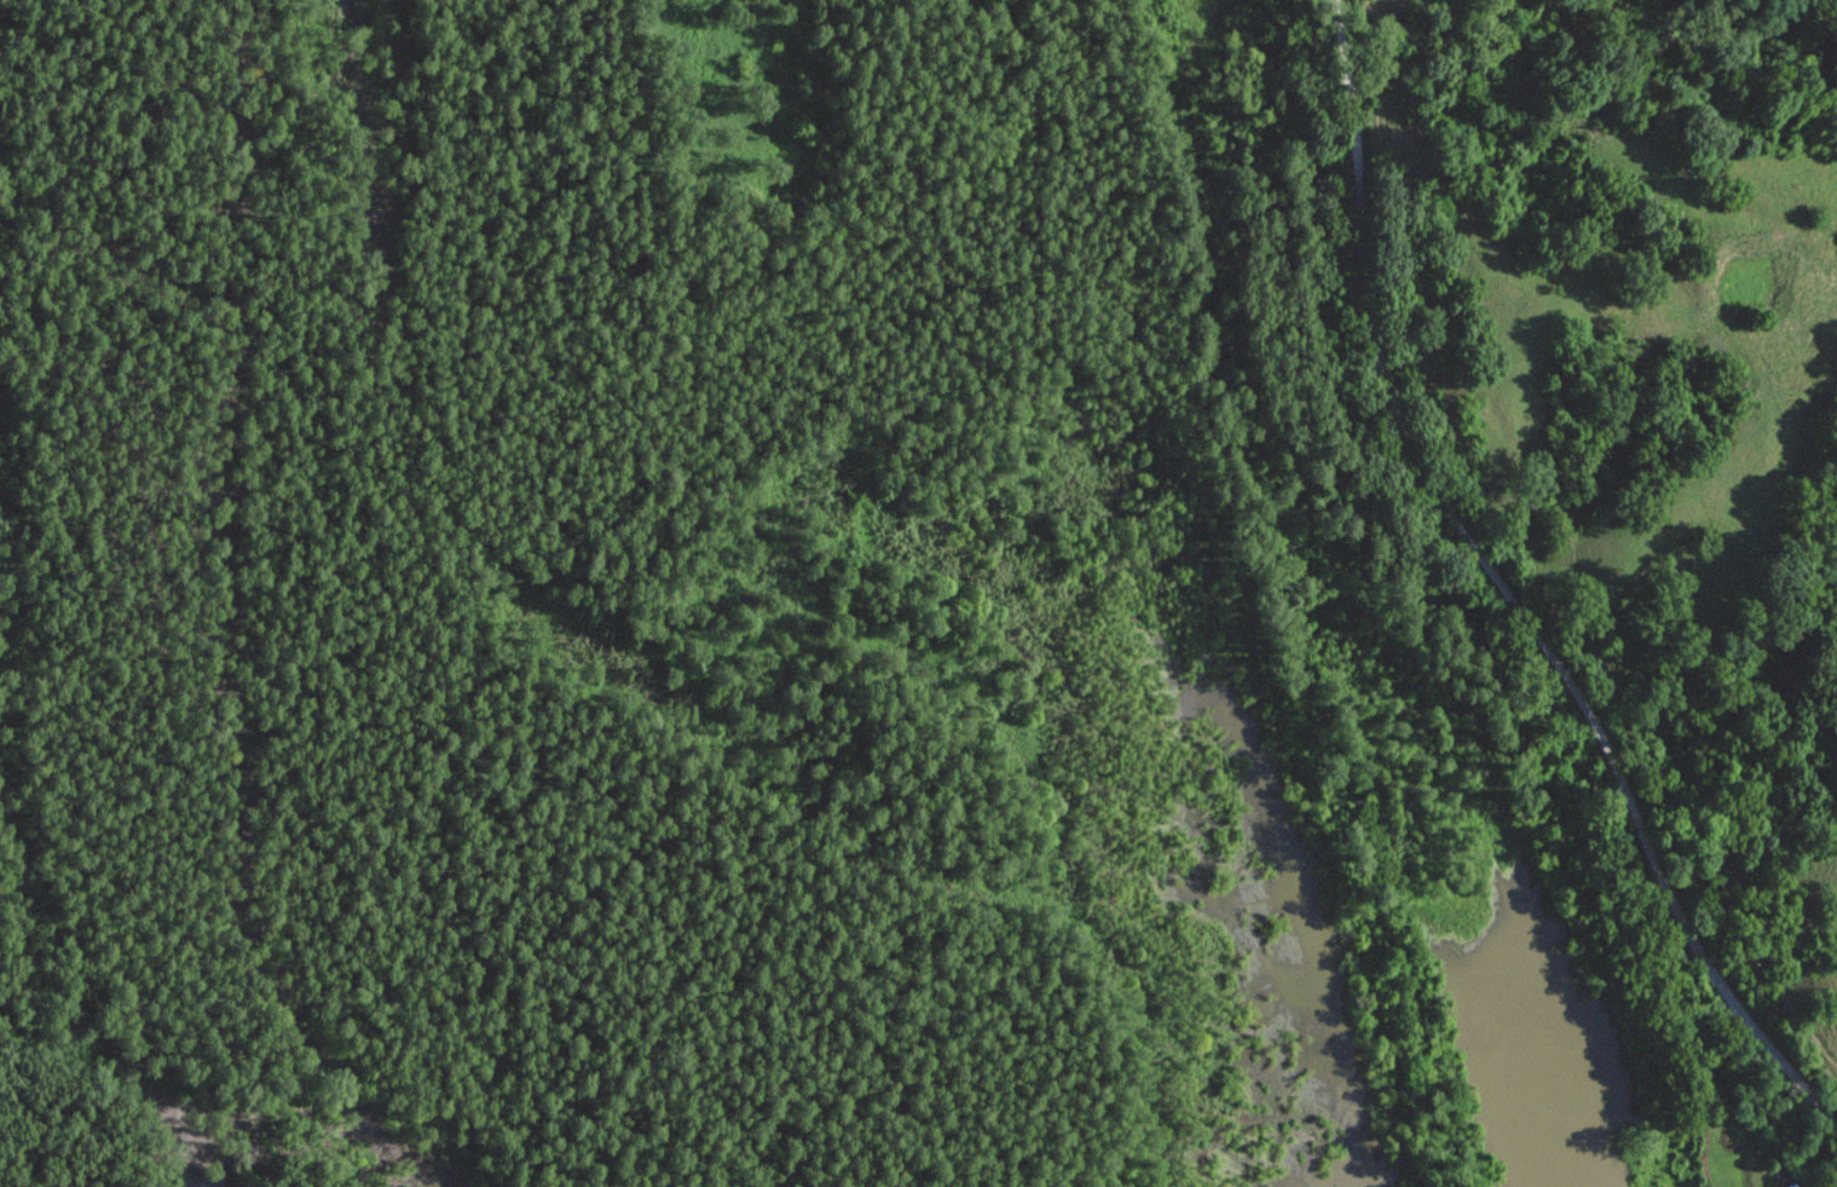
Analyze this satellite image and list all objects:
road: (1504, 592)

